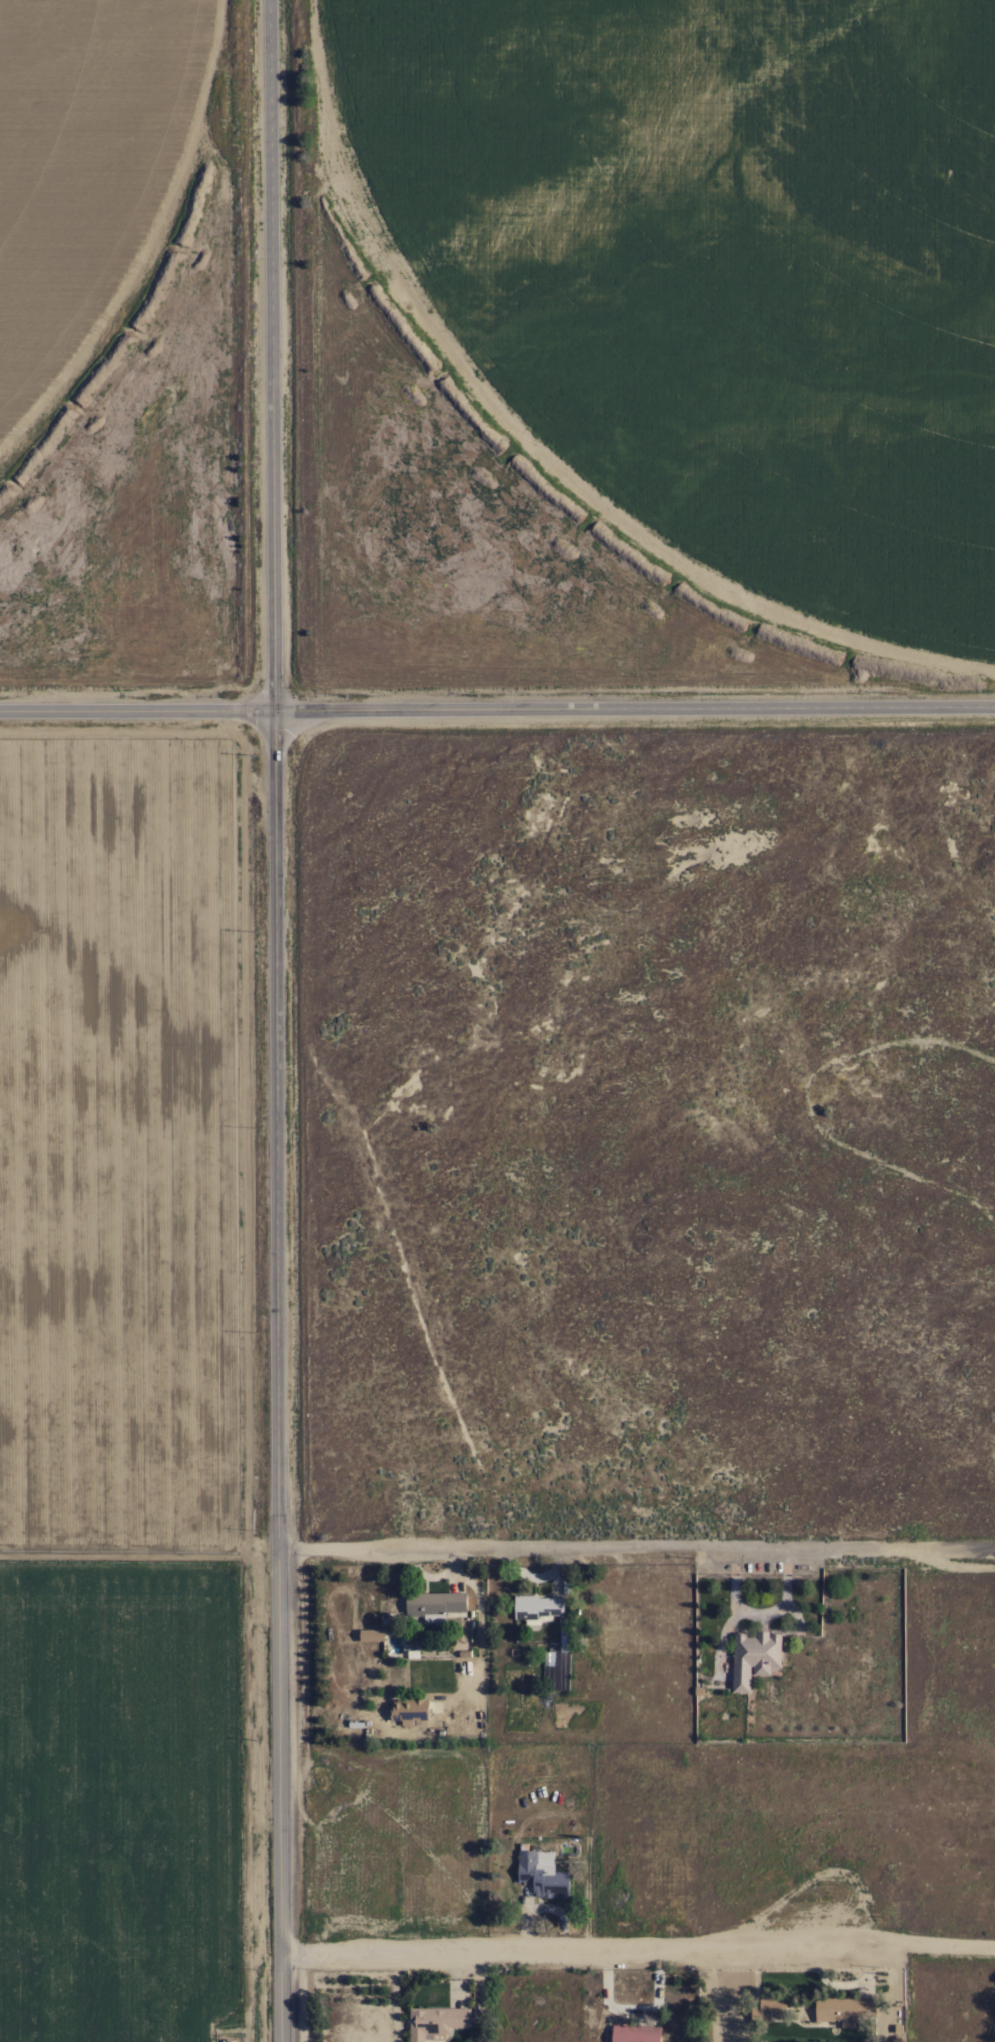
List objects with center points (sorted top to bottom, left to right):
crop: (93, 179)
road: (497, 714)
road: (273, 1021)
road: (634, 1053)
crop: (144, 1143)
road: (637, 1553)
building: (434, 1604)
building: (537, 1608)
building: (372, 1635)
building: (549, 1657)
building: (754, 1657)
building: (409, 1710)
building: (543, 1873)
road: (640, 1953)
building: (844, 2008)
building: (768, 2009)
building: (435, 2022)
building: (635, 2033)

